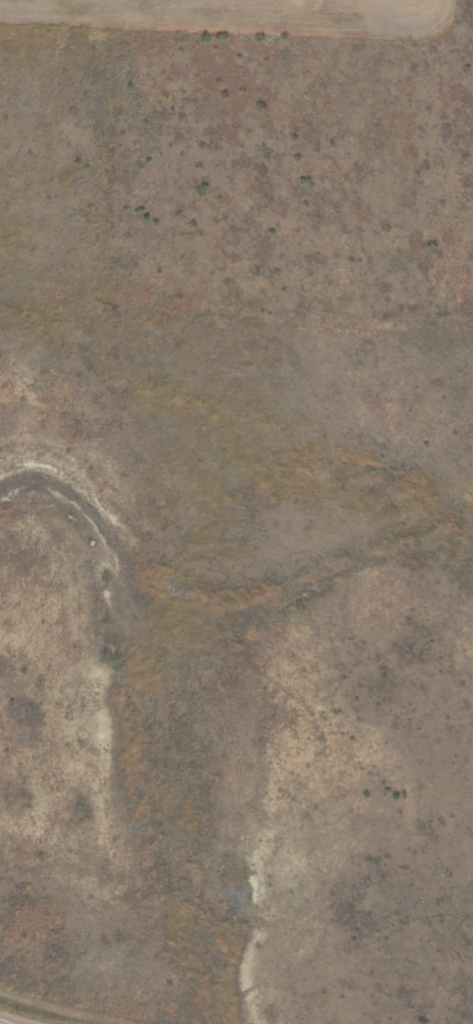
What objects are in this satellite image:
road: (1, 1023)

